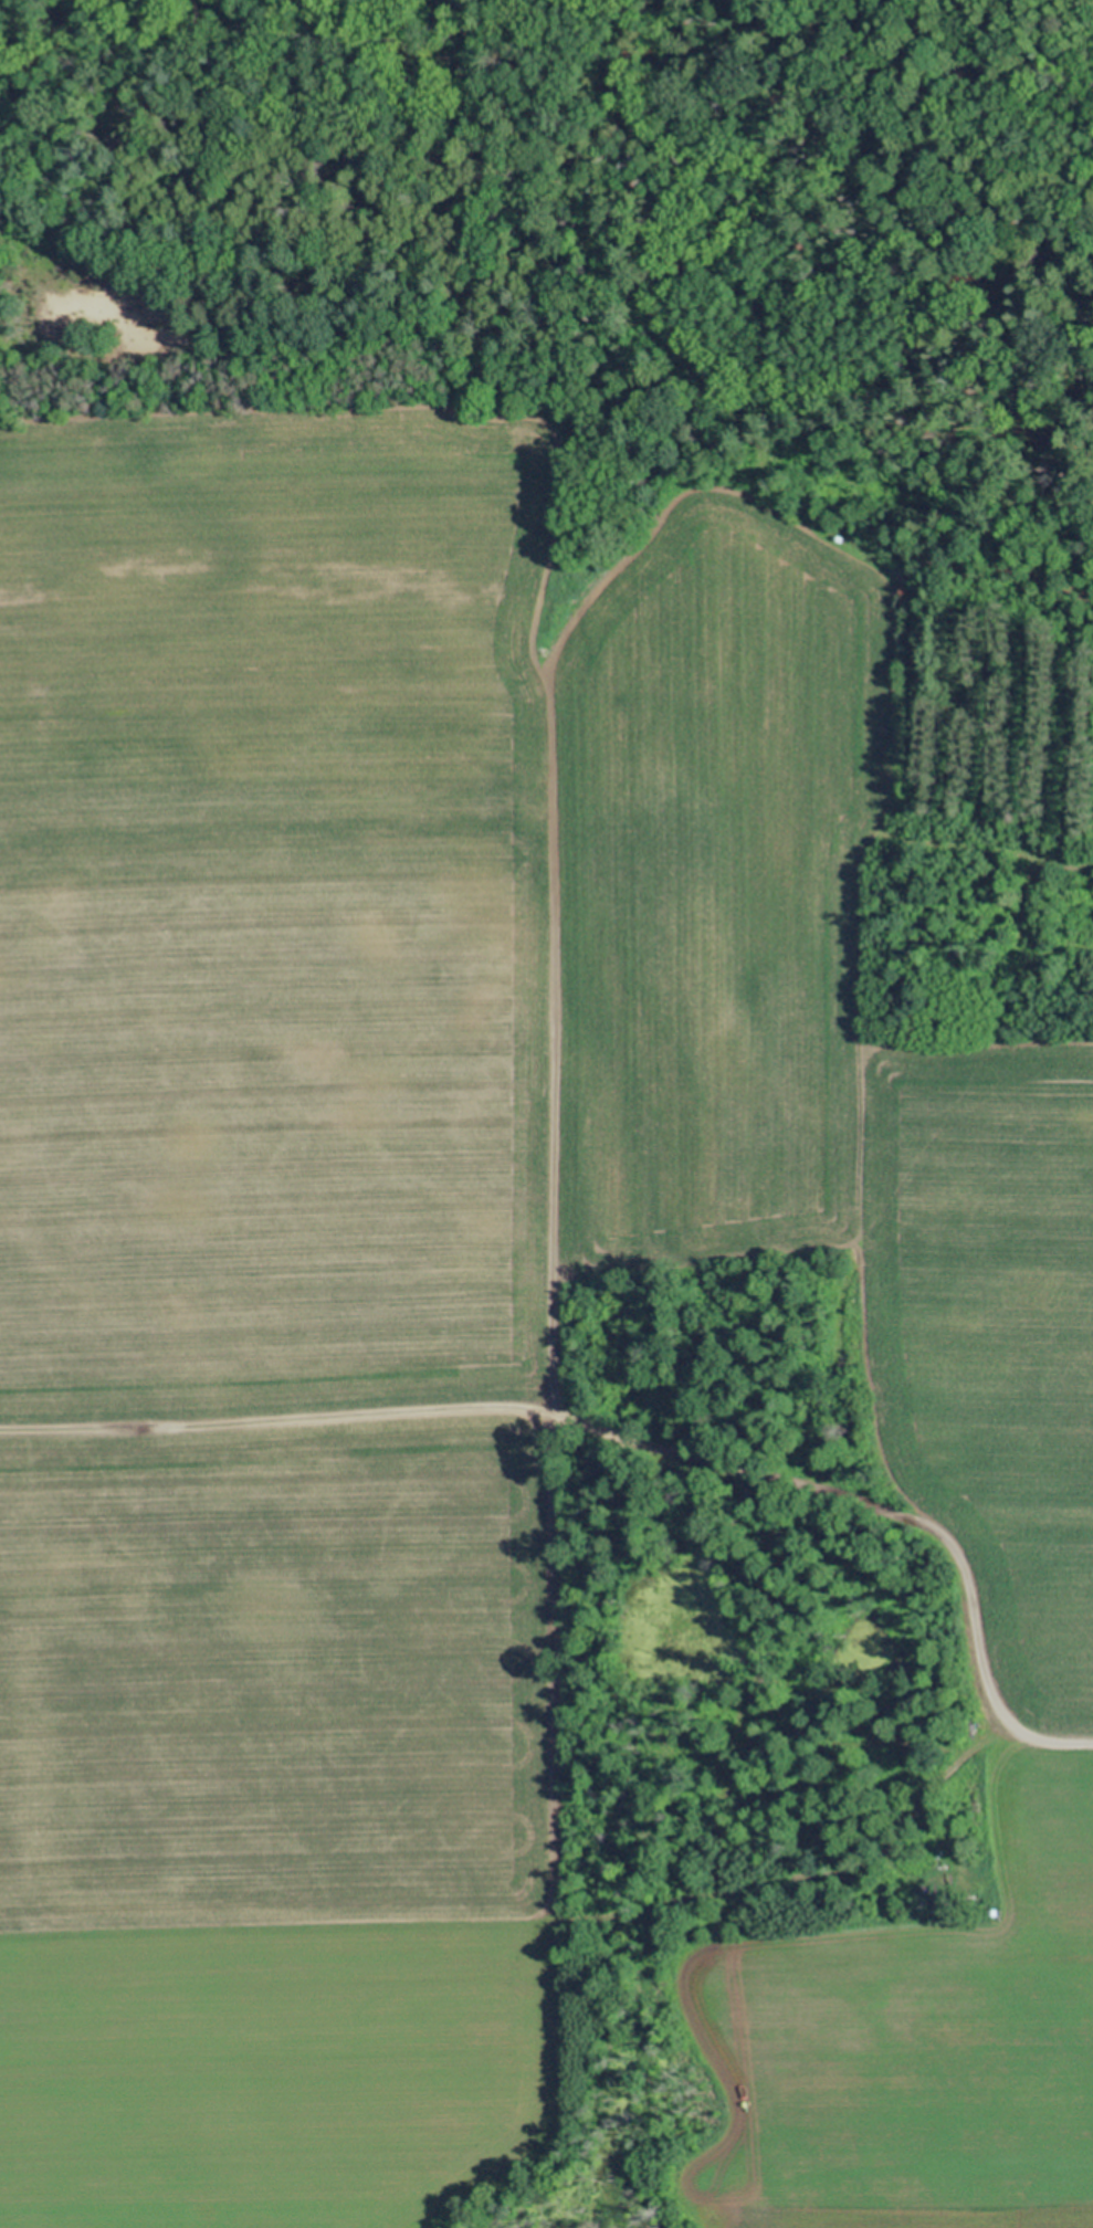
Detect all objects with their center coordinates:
road: (271, 1422)
road: (884, 1510)

